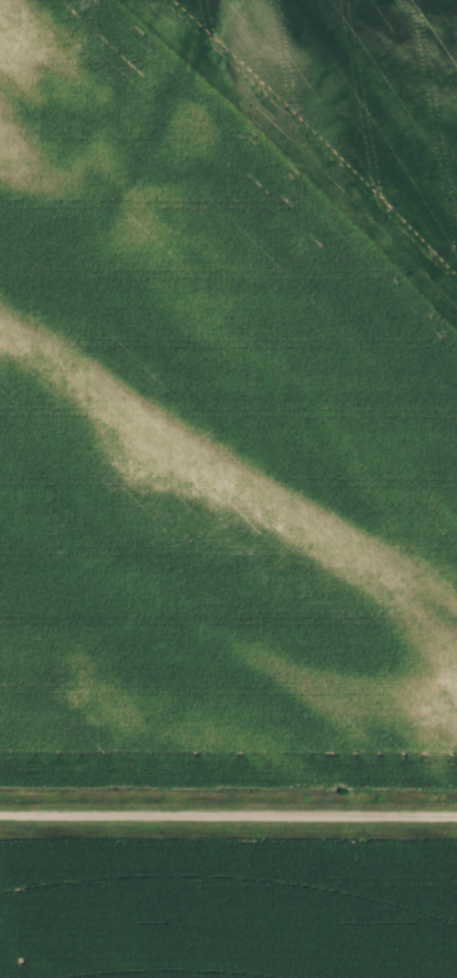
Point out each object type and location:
road: (228, 819)

